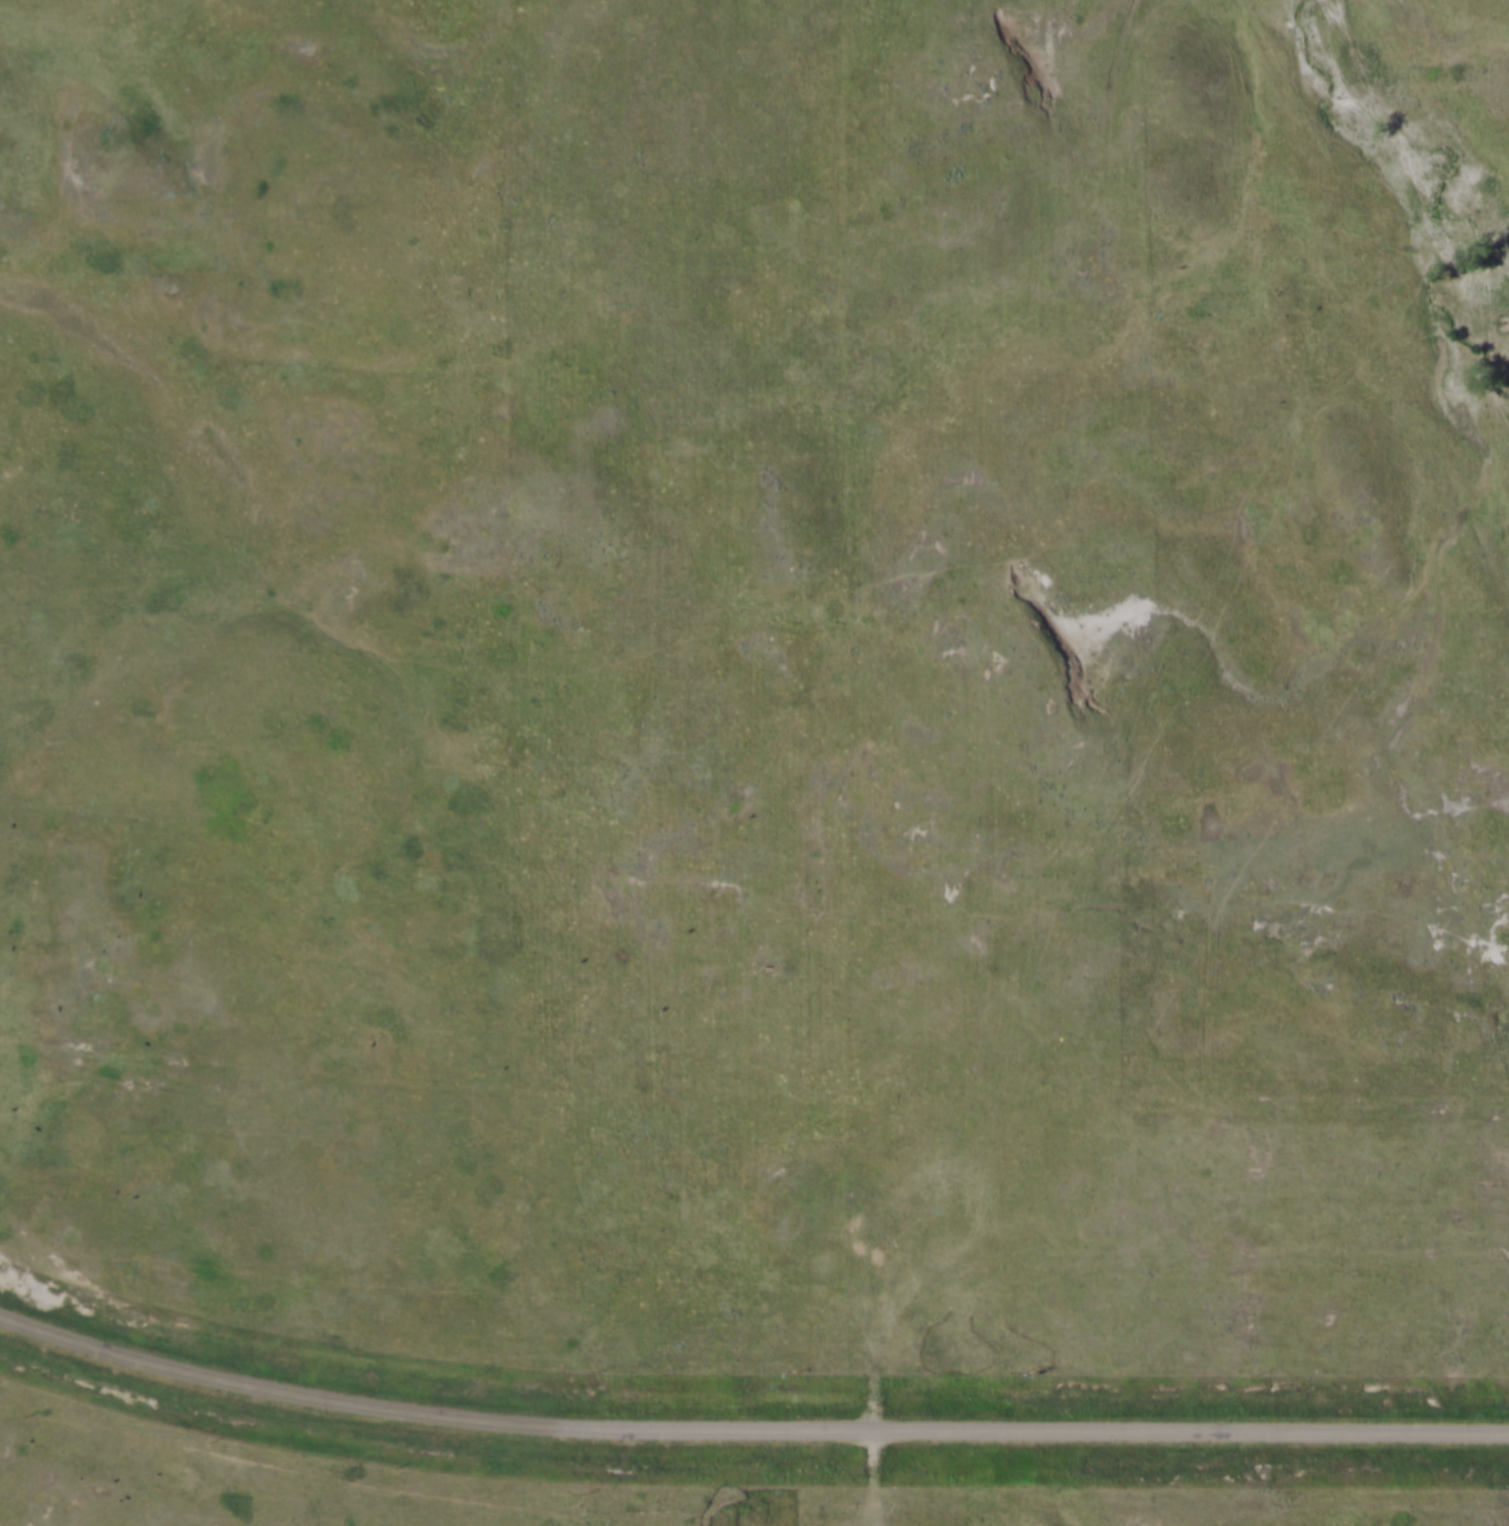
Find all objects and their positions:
road: (748, 1433)
road: (471, 1499)

